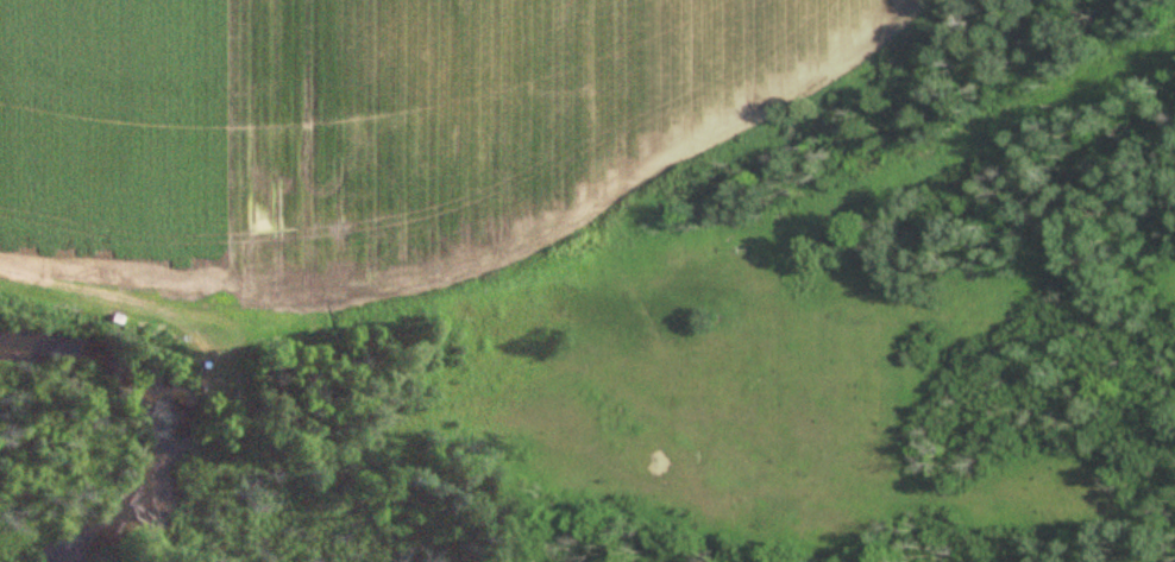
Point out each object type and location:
river: (169, 417)

